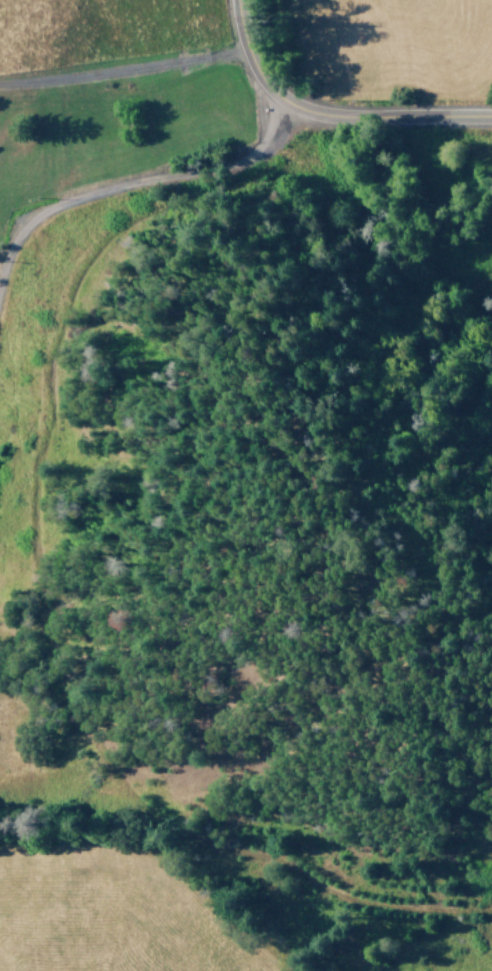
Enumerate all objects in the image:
road: (119, 73)
road: (325, 114)
road: (136, 181)

